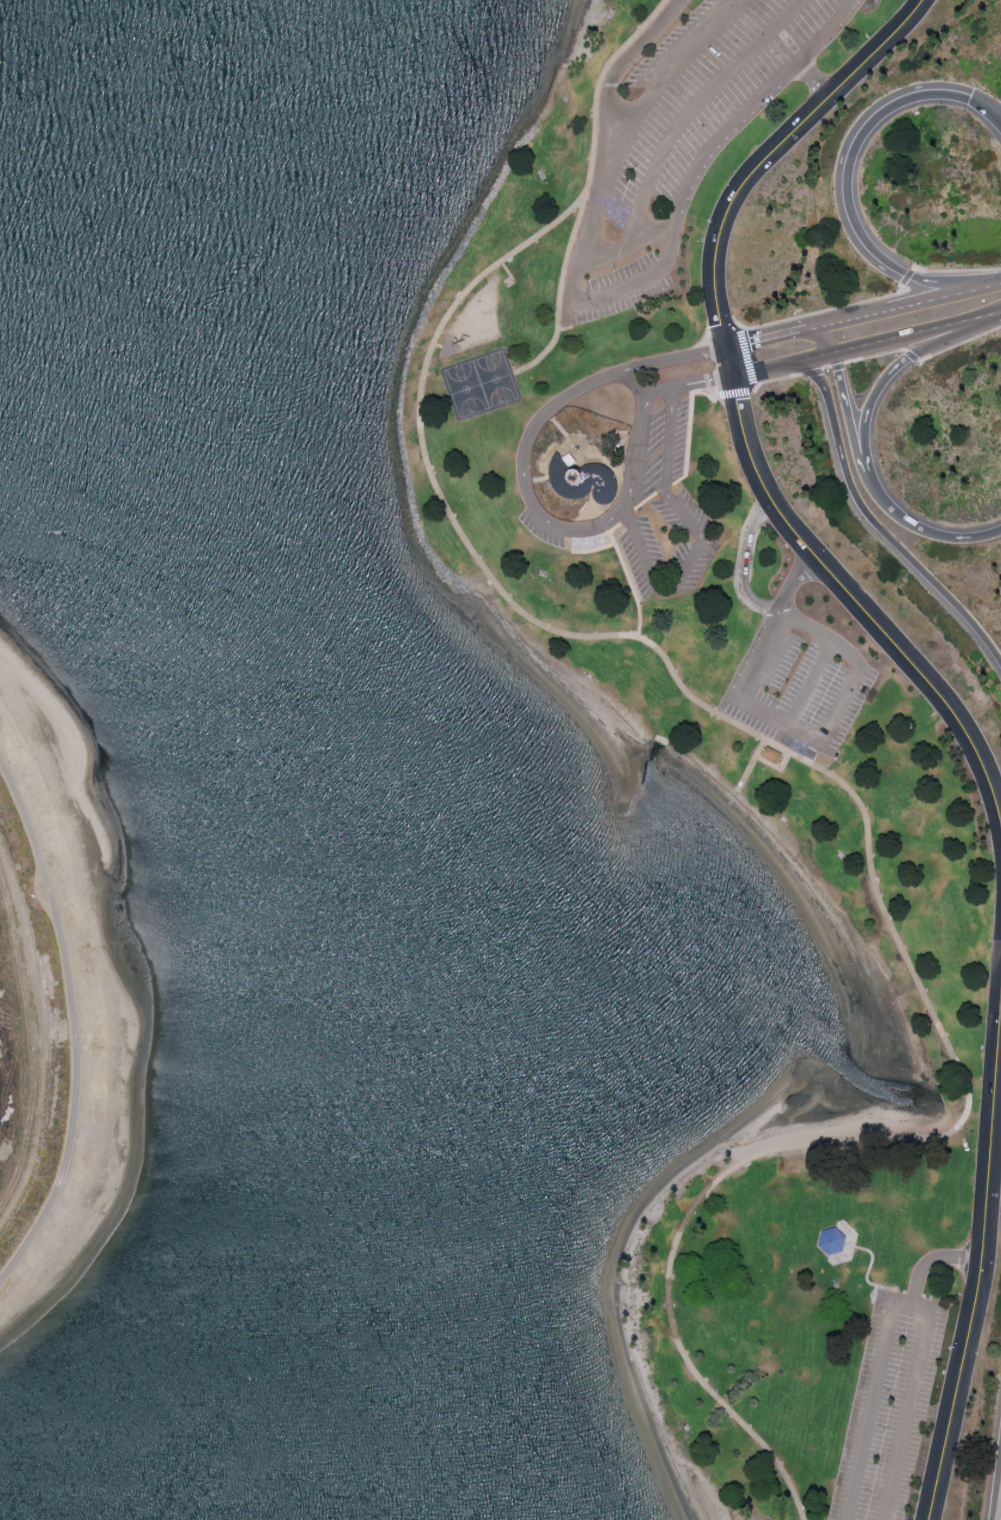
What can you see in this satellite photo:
road: (622, 67)
road: (813, 78)
road: (599, 88)
road: (986, 105)
road: (697, 106)
parking lot: (683, 139)
road: (853, 154)
road: (759, 162)
road: (626, 248)
road: (956, 271)
road: (907, 277)
road: (990, 284)
road: (940, 285)
road: (560, 296)
road: (605, 296)
road: (897, 308)
road: (822, 312)
road: (975, 319)
road: (811, 329)
road: (722, 330)
road: (803, 331)
road: (761, 340)
road: (959, 344)
road: (841, 353)
road: (911, 356)
road: (875, 357)
road: (747, 358)
road: (822, 370)
road: (720, 378)
road: (776, 381)
road: (888, 381)
park: (479, 384)
road: (635, 386)
road: (843, 392)
road: (734, 395)
road: (686, 472)
building: (582, 480)
road: (869, 482)
road: (528, 502)
parking lot: (646, 511)
road: (604, 522)
road: (878, 527)
road: (936, 537)
road: (594, 539)
road: (702, 539)
road: (579, 541)
road: (593, 549)
road: (742, 567)
road: (630, 583)
road: (791, 586)
road: (858, 606)
parking lot: (801, 687)
road: (809, 688)
park: (722, 746)
road: (820, 746)
road: (752, 764)
road: (870, 843)
park: (55, 1001)
road: (74, 1023)
building: (831, 1242)
road: (980, 1251)
road: (922, 1357)
road: (872, 1404)
parking lot: (888, 1412)

